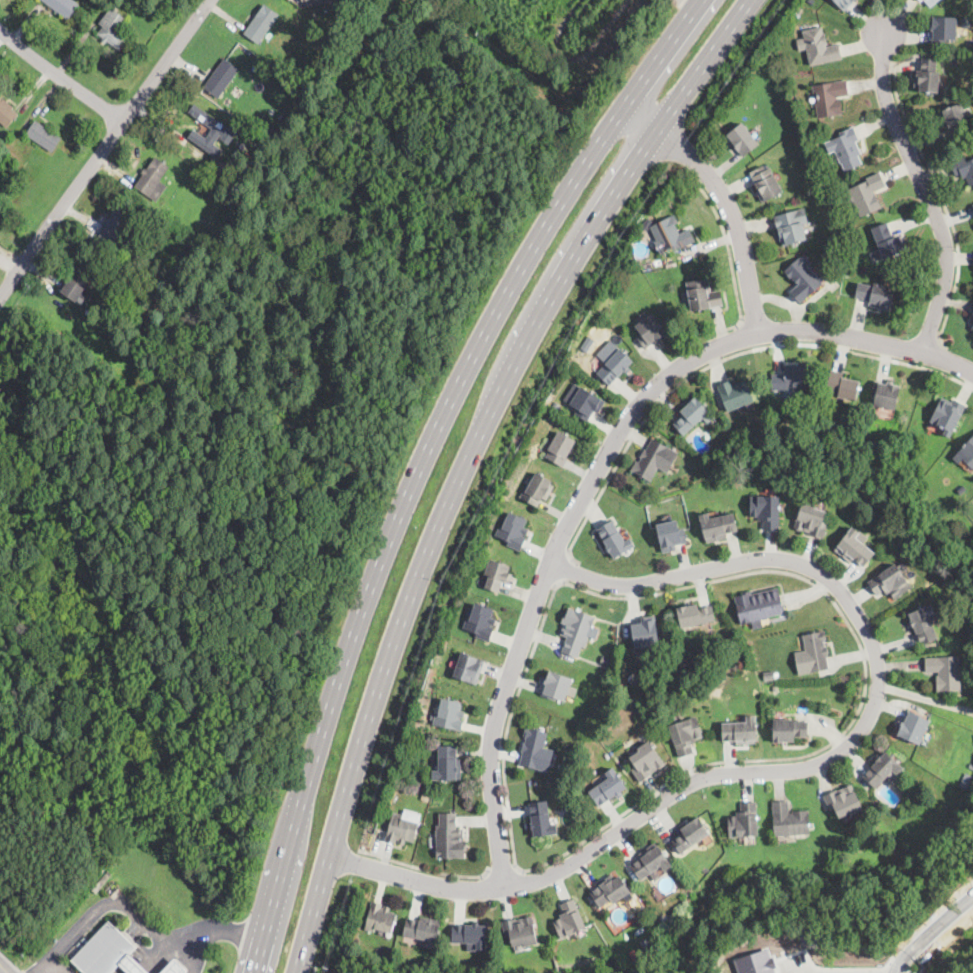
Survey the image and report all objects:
building: (920, 0)
building: (317, 2)
building: (930, 2)
building: (844, 3)
building: (62, 6)
building: (794, 15)
building: (965, 22)
building: (261, 24)
building: (350, 29)
building: (943, 29)
building: (113, 31)
building: (818, 47)
building: (928, 76)
road: (59, 78)
building: (220, 79)
building: (830, 97)
building: (226, 101)
building: (6, 113)
building: (955, 118)
building: (286, 120)
building: (186, 127)
building: (279, 129)
building: (210, 131)
building: (43, 136)
building: (742, 140)
road: (104, 148)
building: (845, 148)
building: (4, 168)
building: (209, 169)
building: (963, 169)
building: (152, 180)
building: (765, 183)
road: (927, 191)
building: (866, 195)
road: (724, 199)
road: (944, 203)
building: (972, 205)
building: (167, 215)
building: (115, 226)
building: (791, 226)
building: (670, 235)
building: (887, 241)
road: (730, 258)
building: (803, 279)
building: (79, 280)
building: (703, 295)
building: (875, 295)
building: (89, 312)
building: (972, 327)
building: (650, 331)
road: (741, 337)
road: (936, 338)
building: (587, 344)
road: (937, 356)
building: (613, 362)
road: (719, 362)
building: (792, 378)
building: (842, 386)
building: (735, 394)
building: (886, 394)
building: (586, 403)
building: (555, 405)
building: (948, 415)
building: (693, 416)
building: (560, 448)
building: (968, 453)
building: (655, 459)
road: (421, 461)
road: (469, 461)
road: (598, 471)
building: (536, 489)
road: (470, 490)
building: (766, 511)
building: (812, 520)
building: (717, 526)
building: (513, 532)
building: (671, 535)
building: (614, 540)
building: (854, 548)
road: (567, 571)
building: (497, 575)
building: (891, 582)
building: (758, 606)
building: (695, 615)
building: (480, 623)
building: (924, 625)
building: (575, 631)
building: (645, 634)
building: (812, 654)
building: (607, 660)
building: (469, 669)
building: (945, 672)
building: (769, 675)
building: (556, 686)
building: (774, 689)
road: (925, 697)
road: (861, 705)
building: (449, 715)
road: (509, 721)
building: (913, 727)
building: (789, 730)
building: (741, 731)
building: (685, 736)
building: (536, 750)
building: (972, 759)
building: (646, 762)
building: (448, 764)
building: (970, 764)
road: (814, 766)
building: (883, 770)
building: (607, 788)
building: (425, 796)
building: (844, 802)
building: (541, 819)
building: (790, 820)
building: (744, 821)
building: (400, 830)
building: (691, 836)
building: (449, 837)
building: (650, 862)
road: (426, 870)
road: (502, 871)
building: (610, 891)
road: (139, 914)
building: (381, 918)
building: (569, 919)
building: (423, 930)
road: (930, 930)
building: (520, 932)
building: (470, 936)
building: (645, 944)
building: (108, 952)
road: (199, 952)
building: (756, 962)
parking lot: (798, 964)
road: (926, 964)
road: (58, 965)
building: (174, 968)
road: (316, 969)

